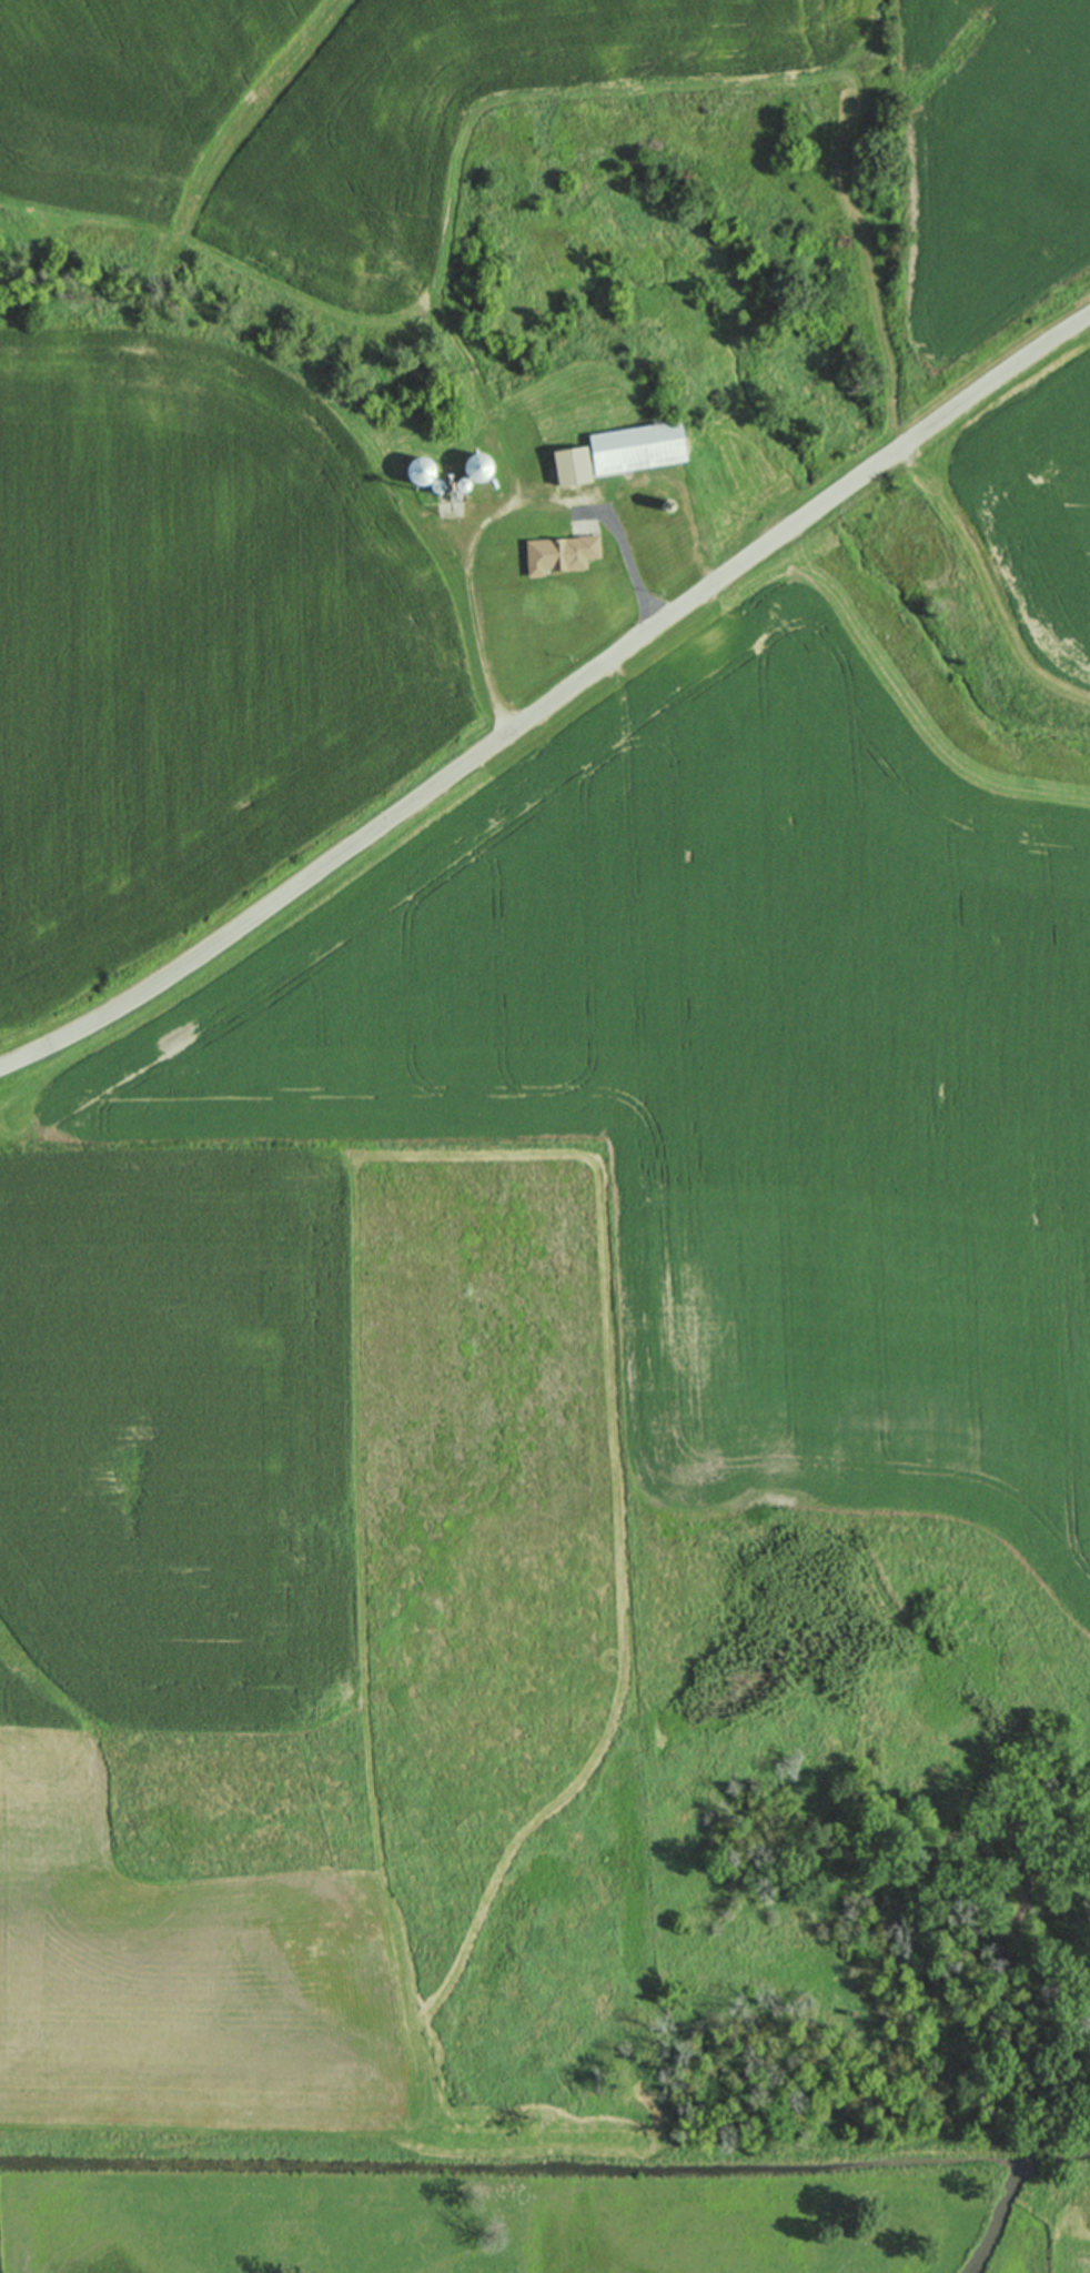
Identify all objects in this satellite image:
building: (639, 446)
building: (573, 463)
building: (478, 466)
building: (422, 470)
building: (561, 554)
road: (551, 700)
river: (1007, 2187)

